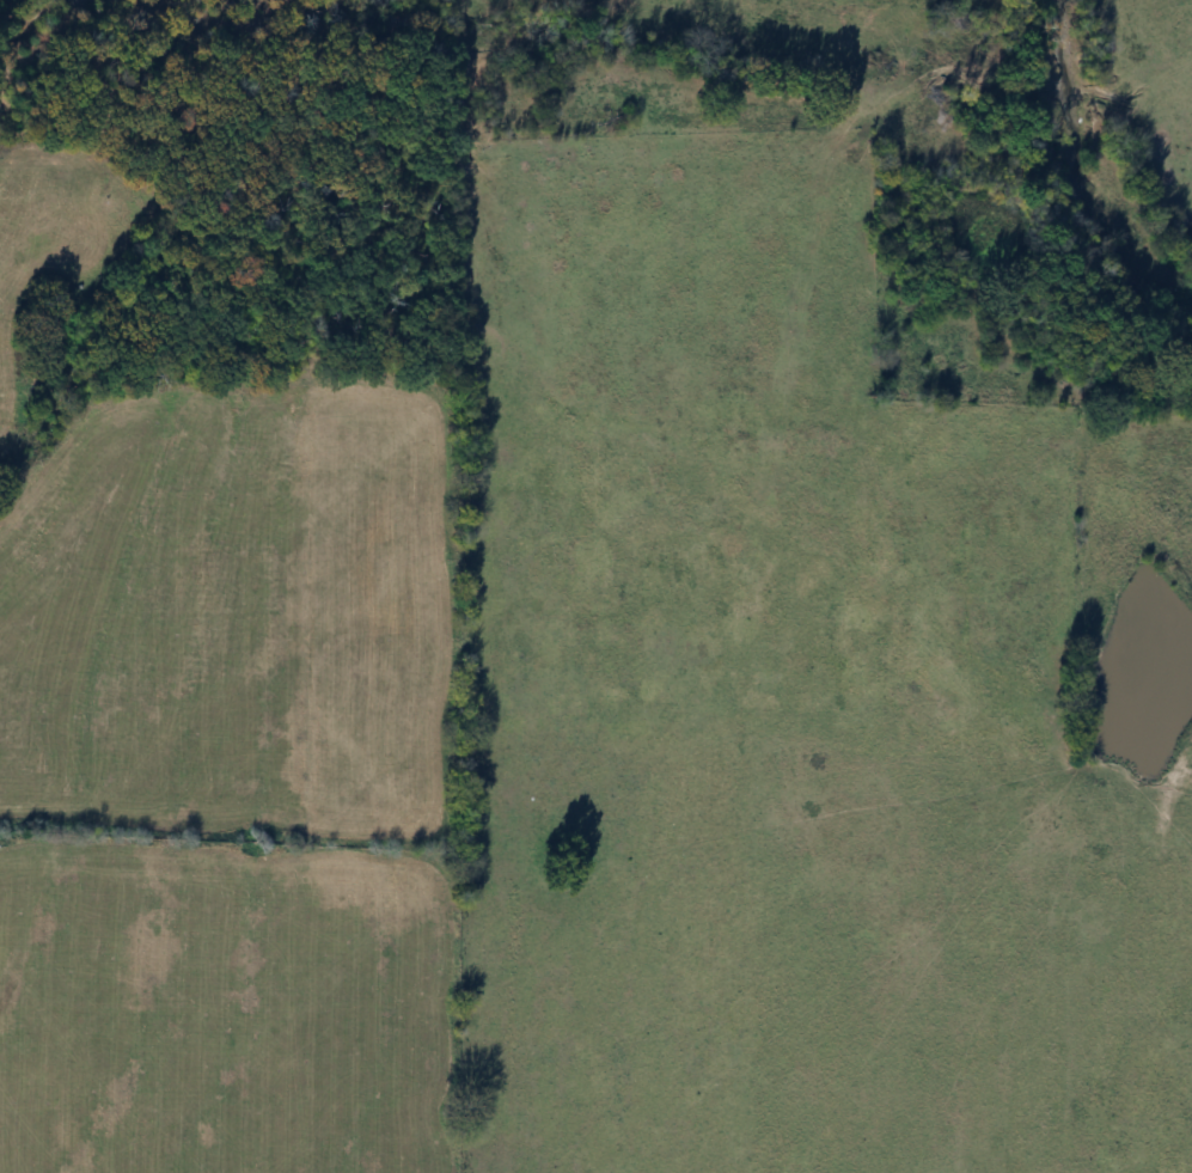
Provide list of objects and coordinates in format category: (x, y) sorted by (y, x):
road: (554, 450)

